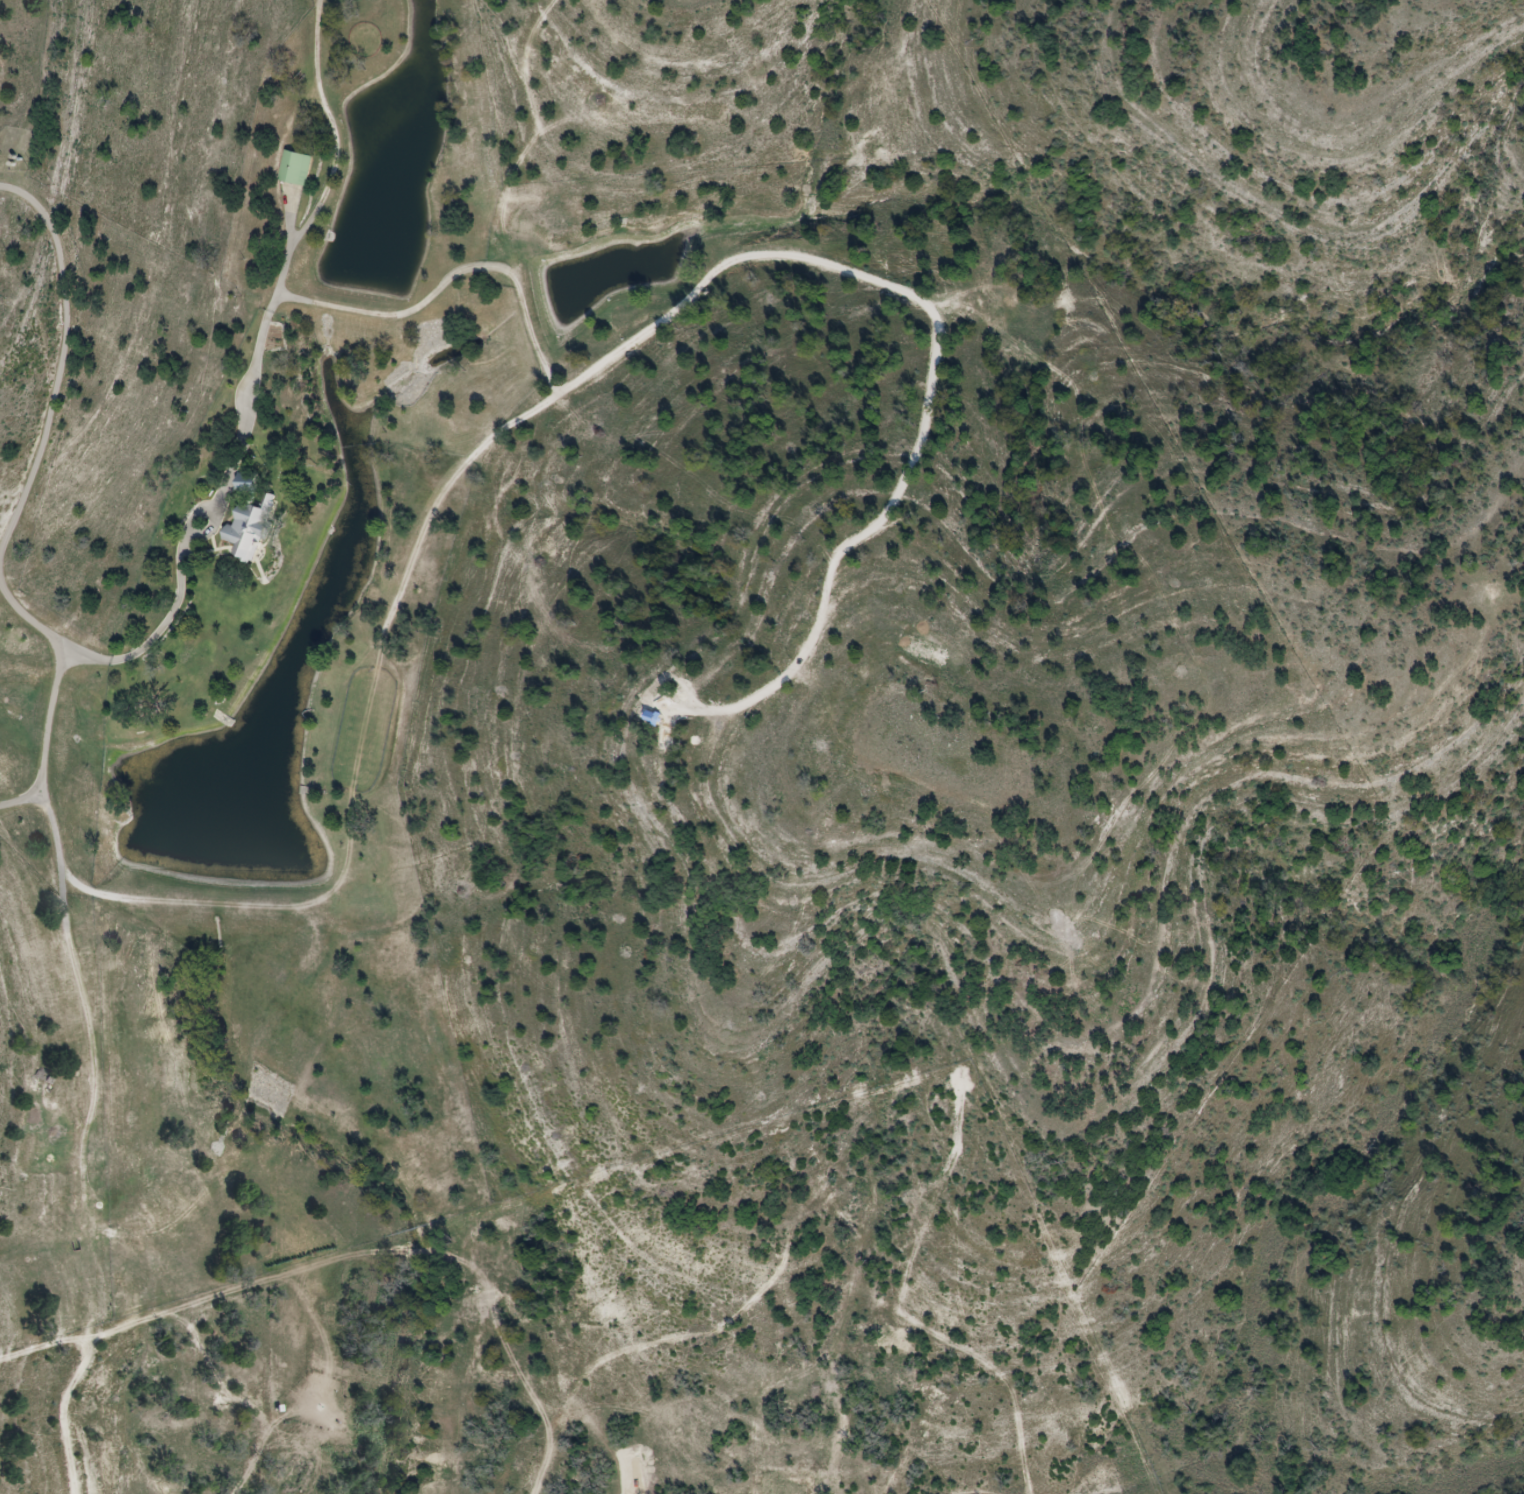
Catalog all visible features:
building: (301, 167)
road: (51, 420)
building: (255, 482)
building: (254, 526)
road: (178, 618)
road: (46, 742)

